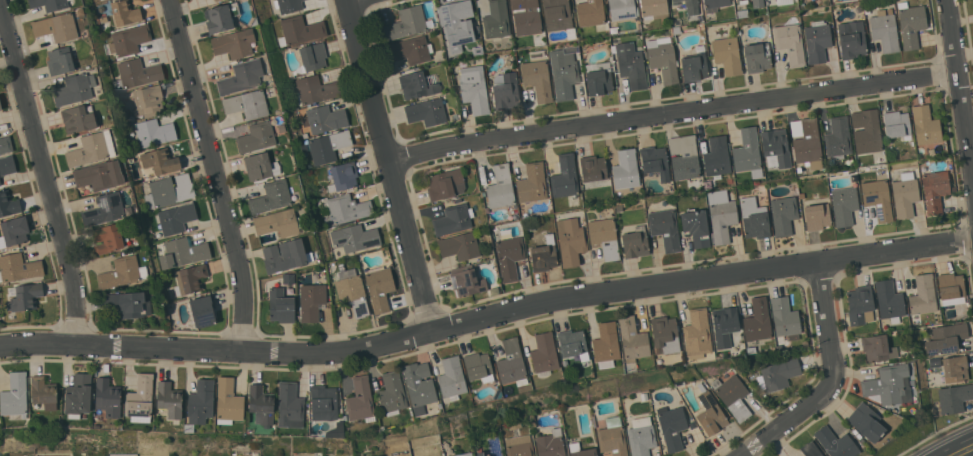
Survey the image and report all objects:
building: (216, 0)
building: (735, 0)
building: (737, 0)
building: (743, 1)
building: (779, 2)
building: (758, 3)
building: (49, 4)
building: (715, 4)
building: (289, 5)
building: (689, 5)
building: (654, 8)
building: (621, 9)
building: (125, 12)
building: (590, 13)
building: (742, 13)
building: (221, 16)
building: (559, 16)
building: (526, 18)
building: (496, 19)
building: (678, 21)
building: (104, 22)
building: (408, 23)
building: (457, 23)
building: (911, 25)
building: (57, 27)
building: (885, 29)
building: (300, 30)
building: (852, 39)
building: (128, 40)
building: (817, 41)
building: (234, 43)
building: (790, 43)
building: (700, 48)
building: (412, 50)
building: (478, 50)
building: (537, 53)
building: (727, 55)
building: (313, 56)
building: (757, 57)
building: (663, 60)
building: (60, 61)
building: (631, 65)
building: (694, 68)
building: (564, 72)
building: (137, 74)
building: (243, 77)
building: (599, 78)
building: (537, 79)
road: (961, 83)
building: (418, 84)
building: (75, 89)
building: (474, 89)
building: (316, 90)
building: (506, 91)
building: (149, 100)
building: (247, 104)
building: (0, 106)
building: (427, 112)
road: (675, 113)
building: (326, 118)
building: (78, 119)
building: (896, 124)
building: (925, 125)
building: (866, 131)
building: (154, 132)
building: (256, 137)
building: (838, 138)
building: (806, 142)
building: (6, 144)
building: (328, 146)
building: (776, 146)
building: (91, 149)
building: (748, 152)
building: (684, 157)
building: (717, 157)
building: (161, 161)
building: (655, 161)
building: (7, 165)
road: (392, 165)
building: (261, 166)
building: (593, 168)
building: (626, 169)
road: (46, 171)
road: (217, 174)
building: (99, 175)
building: (343, 176)
building: (565, 177)
building: (0, 183)
building: (532, 183)
building: (446, 184)
building: (0, 185)
building: (501, 188)
building: (935, 190)
building: (169, 191)
building: (905, 194)
building: (271, 197)
building: (878, 198)
building: (8, 204)
building: (844, 205)
building: (619, 208)
building: (104, 209)
building: (343, 209)
building: (129, 211)
building: (721, 215)
building: (783, 215)
building: (817, 216)
building: (175, 218)
building: (755, 218)
building: (453, 219)
building: (278, 222)
building: (696, 226)
building: (530, 227)
building: (665, 228)
building: (14, 231)
building: (107, 237)
building: (355, 237)
building: (604, 237)
building: (570, 241)
building: (635, 244)
building: (460, 246)
building: (183, 252)
building: (544, 254)
building: (285, 255)
building: (509, 257)
building: (18, 267)
building: (122, 273)
building: (190, 279)
building: (467, 281)
building: (379, 287)
building: (951, 288)
building: (352, 290)
building: (923, 294)
building: (24, 296)
building: (889, 300)
building: (311, 301)
building: (127, 304)
building: (281, 305)
building: (860, 305)
building: (203, 311)
road: (487, 317)
building: (785, 318)
building: (757, 320)
building: (724, 325)
building: (697, 334)
building: (664, 335)
building: (945, 338)
building: (632, 339)
building: (573, 343)
building: (606, 344)
building: (877, 347)
building: (908, 350)
building: (544, 354)
building: (934, 360)
building: (511, 363)
building: (478, 366)
building: (955, 368)
building: (778, 374)
building: (451, 378)
road: (834, 380)
building: (680, 383)
building: (888, 385)
building: (419, 386)
building: (43, 392)
building: (392, 393)
building: (78, 395)
building: (644, 396)
building: (733, 396)
building: (15, 397)
building: (954, 397)
building: (107, 399)
building: (140, 399)
building: (169, 399)
building: (360, 399)
building: (228, 401)
building: (323, 402)
building: (200, 403)
building: (261, 404)
building: (290, 405)
building: (710, 412)
building: (533, 420)
building: (594, 421)
building: (866, 421)
building: (515, 424)
building: (693, 425)
building: (672, 426)
building: (336, 430)
building: (641, 436)
building: (612, 437)
building: (551, 443)
building: (836, 443)
building: (519, 446)
building: (810, 449)
building: (581, 450)
road: (961, 450)
building: (408, 453)
building: (463, 454)
building: (481, 454)
building: (823, 455)

